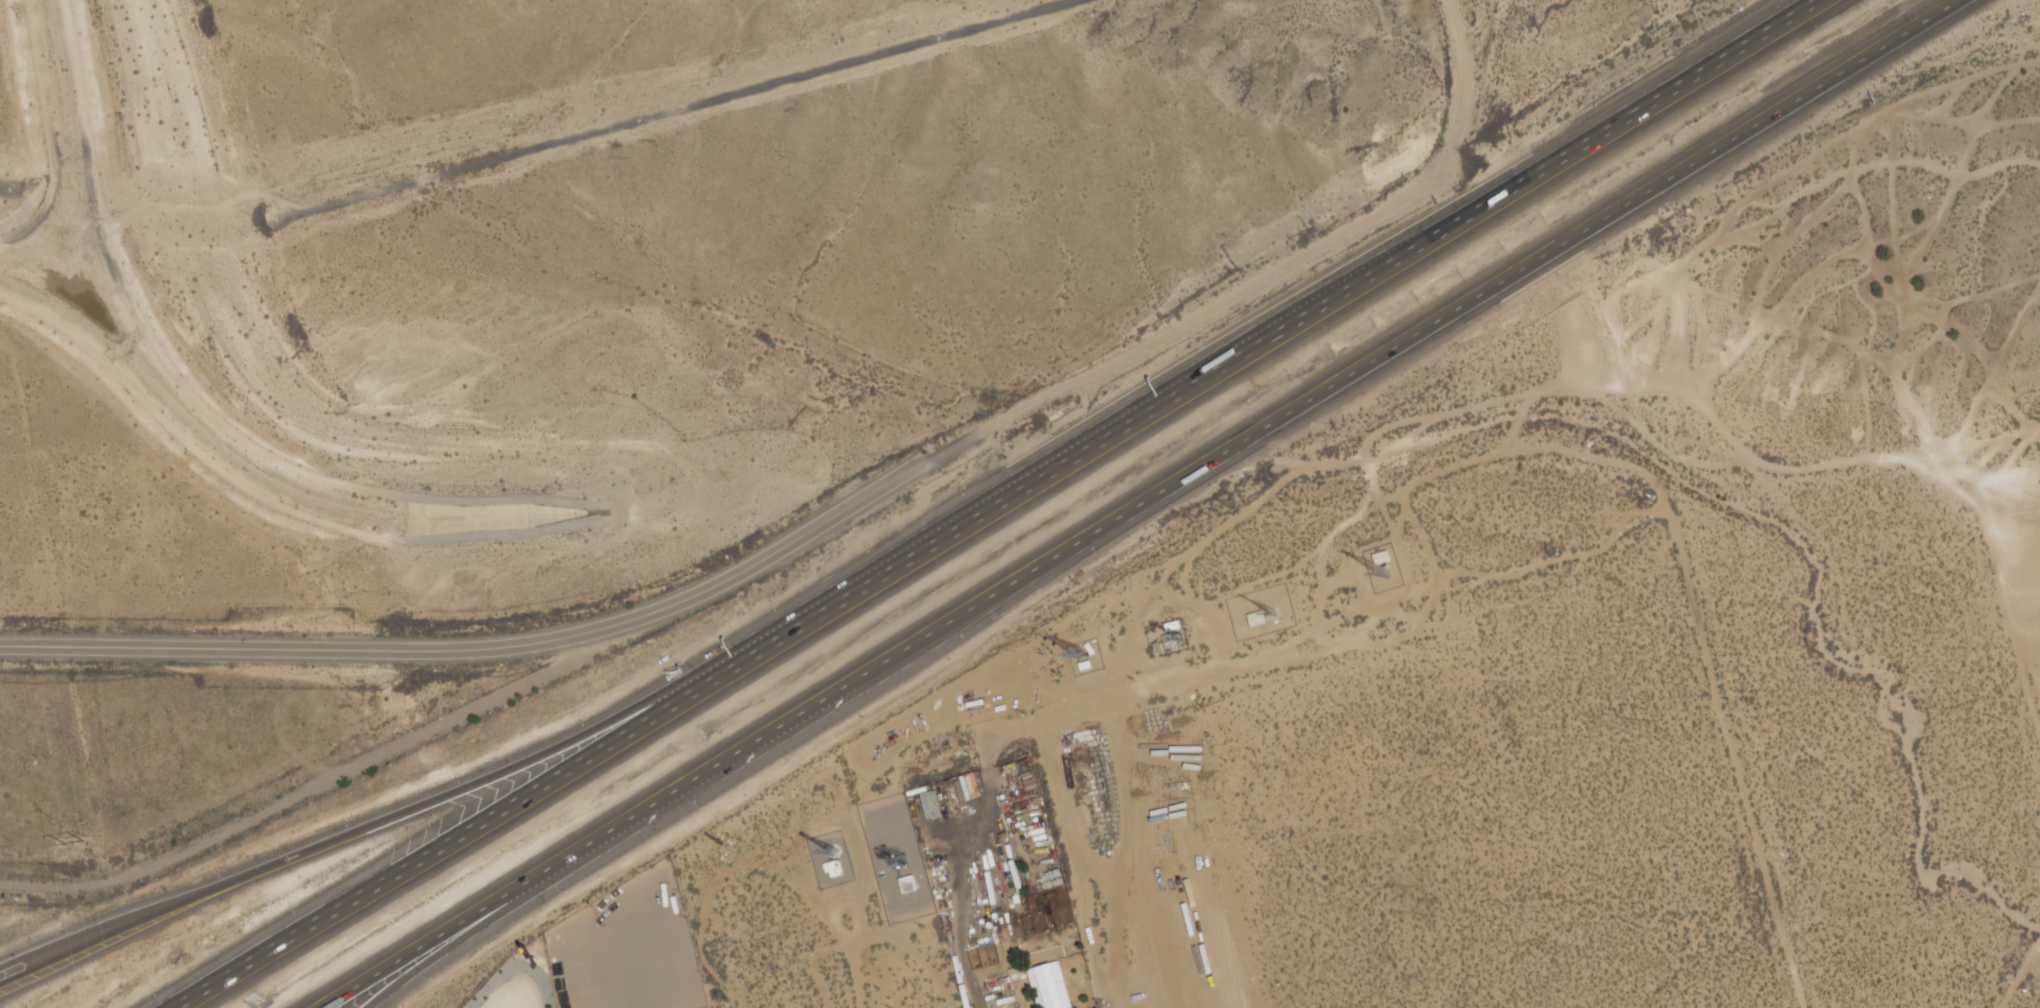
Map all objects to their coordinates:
road: (668, 109)
road: (1569, 150)
road: (1262, 275)
road: (1440, 322)
road: (1031, 481)
street lamp: (965, 487)
street lamp: (872, 545)
street lamp: (1102, 554)
street lamp: (777, 604)
street lamp: (971, 641)
road: (486, 651)
street lamp: (683, 661)
road: (1088, 693)
street lamp: (586, 717)
street lamp: (838, 723)
road: (737, 754)
street lamp: (461, 772)
road: (440, 799)
street lamp: (703, 806)
parking lot: (339, 810)
street lamp: (351, 818)
street lamp: (433, 818)
road: (454, 835)
road: (972, 849)
power tower: (76, 850)
street lamp: (223, 867)
building: (834, 869)
building: (909, 885)
street lamp: (567, 892)
street lamp: (297, 904)
street lamp: (63, 927)
road: (462, 935)
road: (440, 936)
road: (82, 943)
building: (983, 952)
road: (14, 974)
street lamp: (431, 978)
building: (1050, 986)
street lamp: (159, 987)

